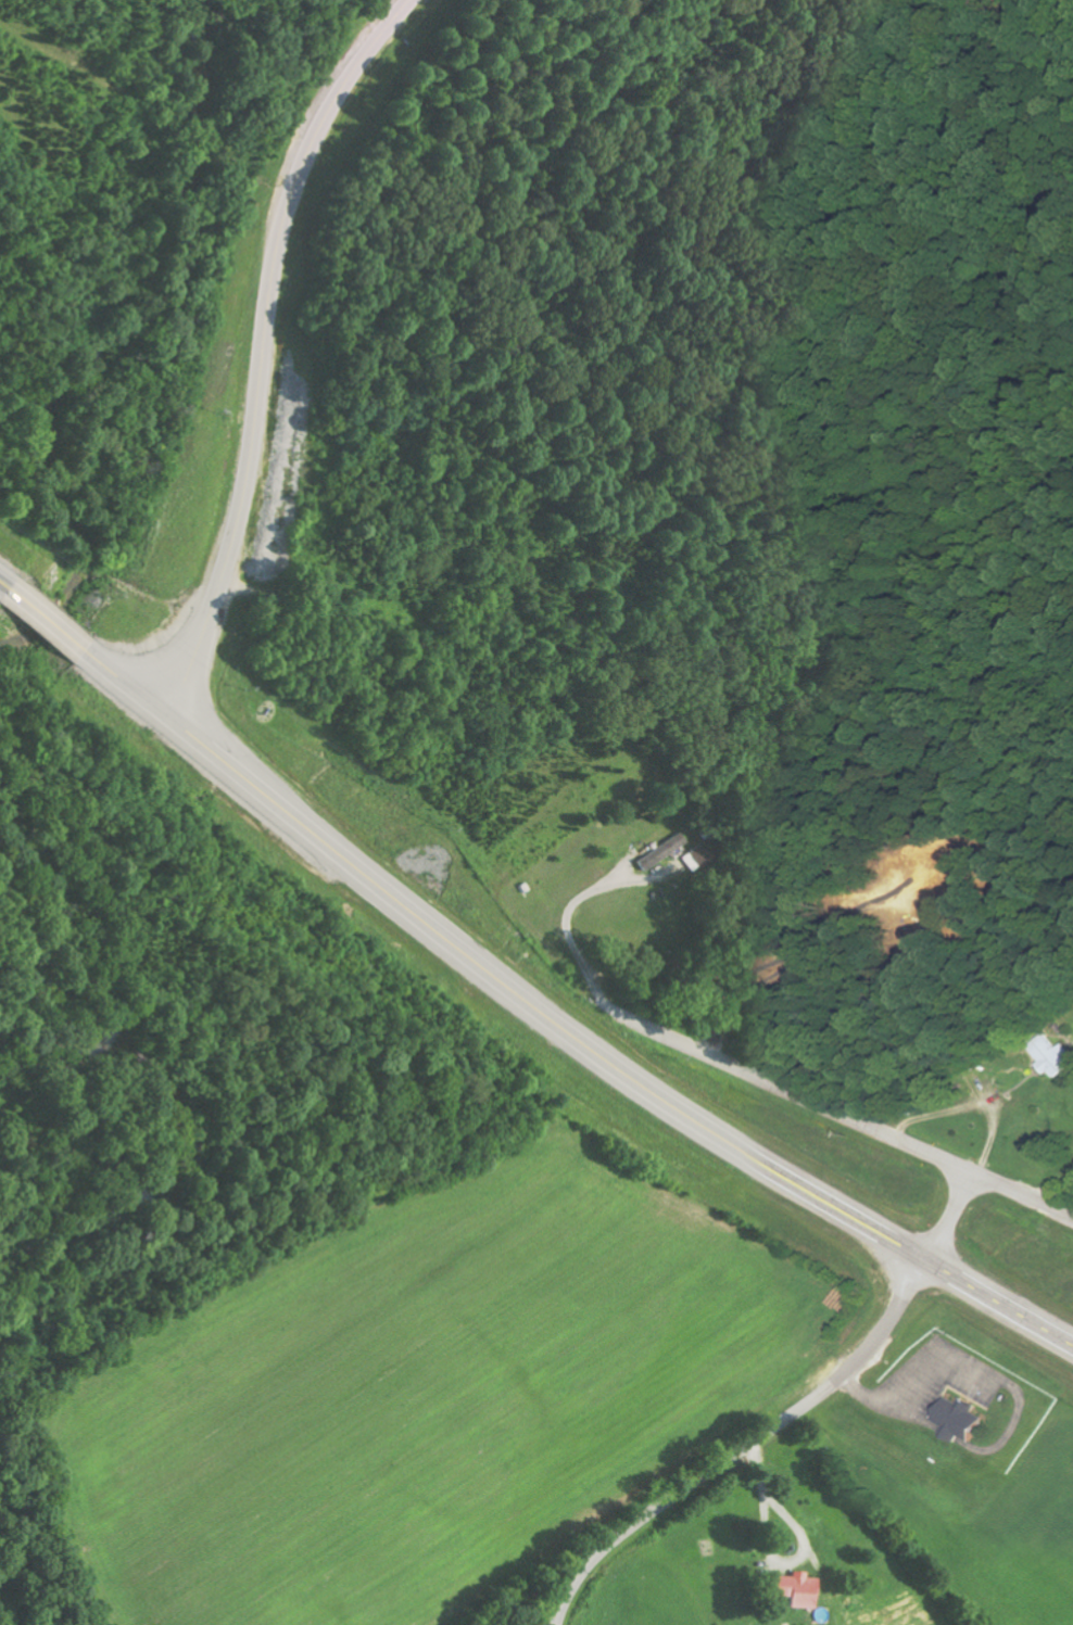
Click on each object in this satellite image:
road: (265, 347)
road: (72, 647)
building: (658, 851)
road: (590, 1054)
building: (1051, 1056)
road: (835, 1115)
road: (783, 1419)
building: (956, 1420)
building: (793, 1588)

